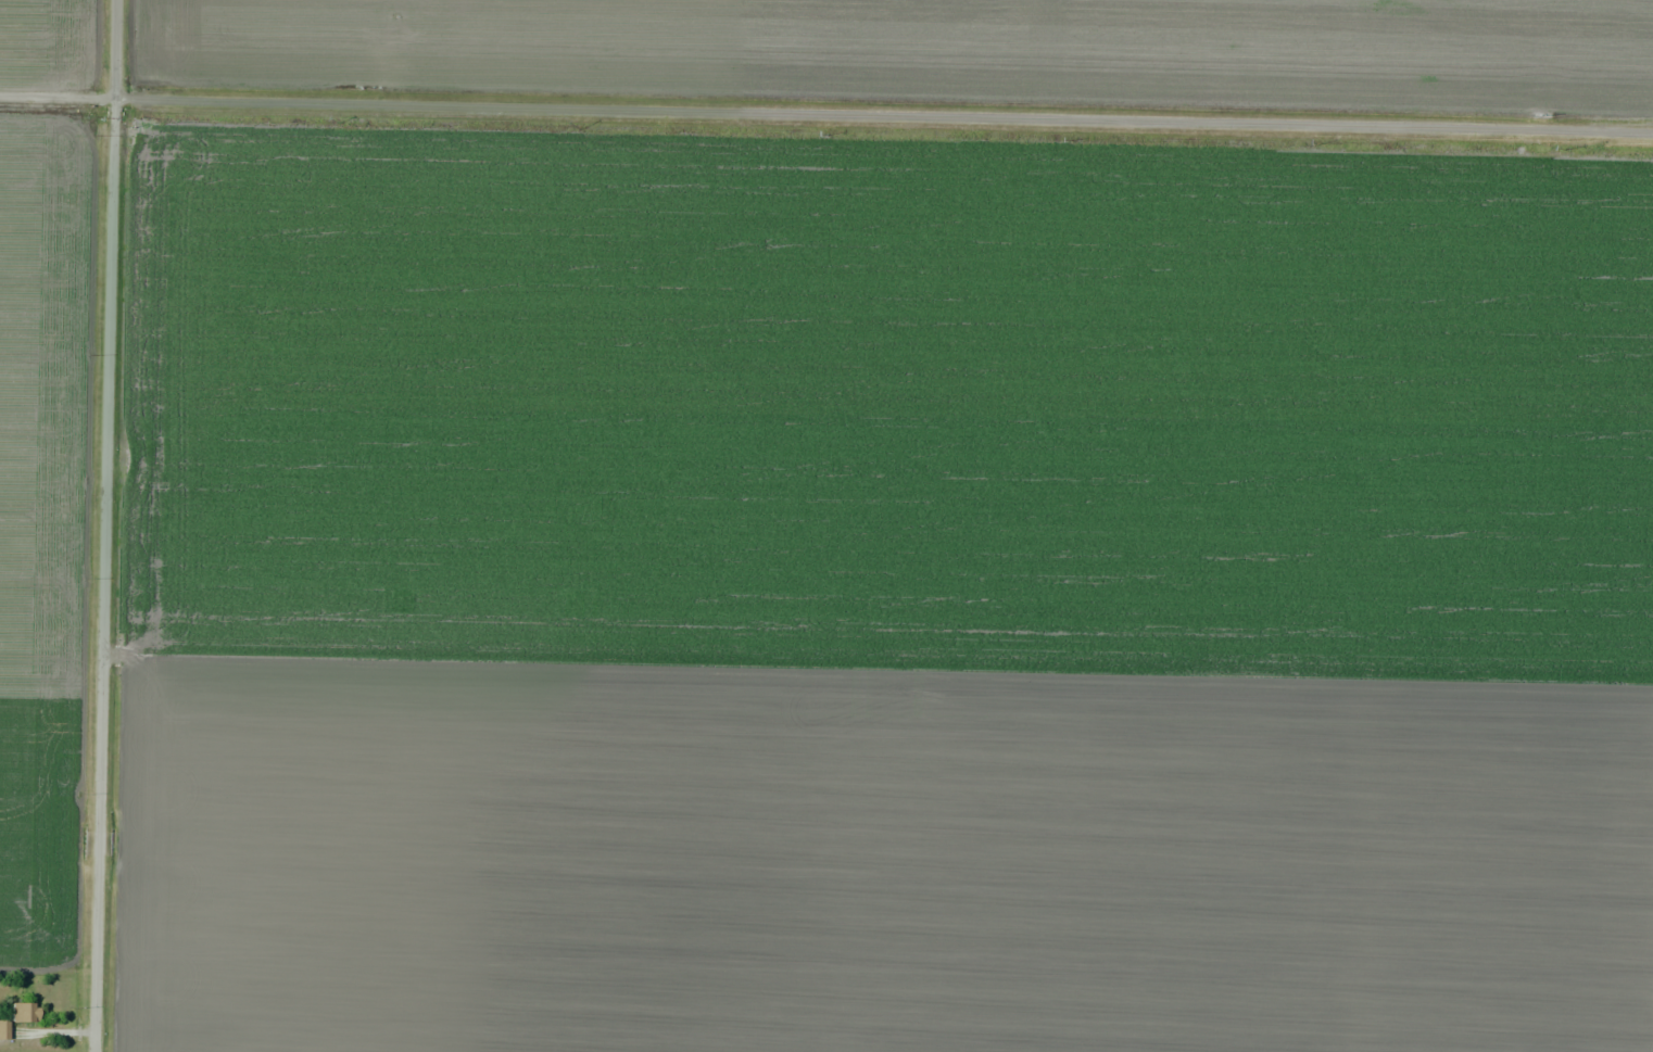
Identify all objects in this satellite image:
road: (825, 115)
road: (97, 525)
building: (22, 1012)
building: (2, 1029)

